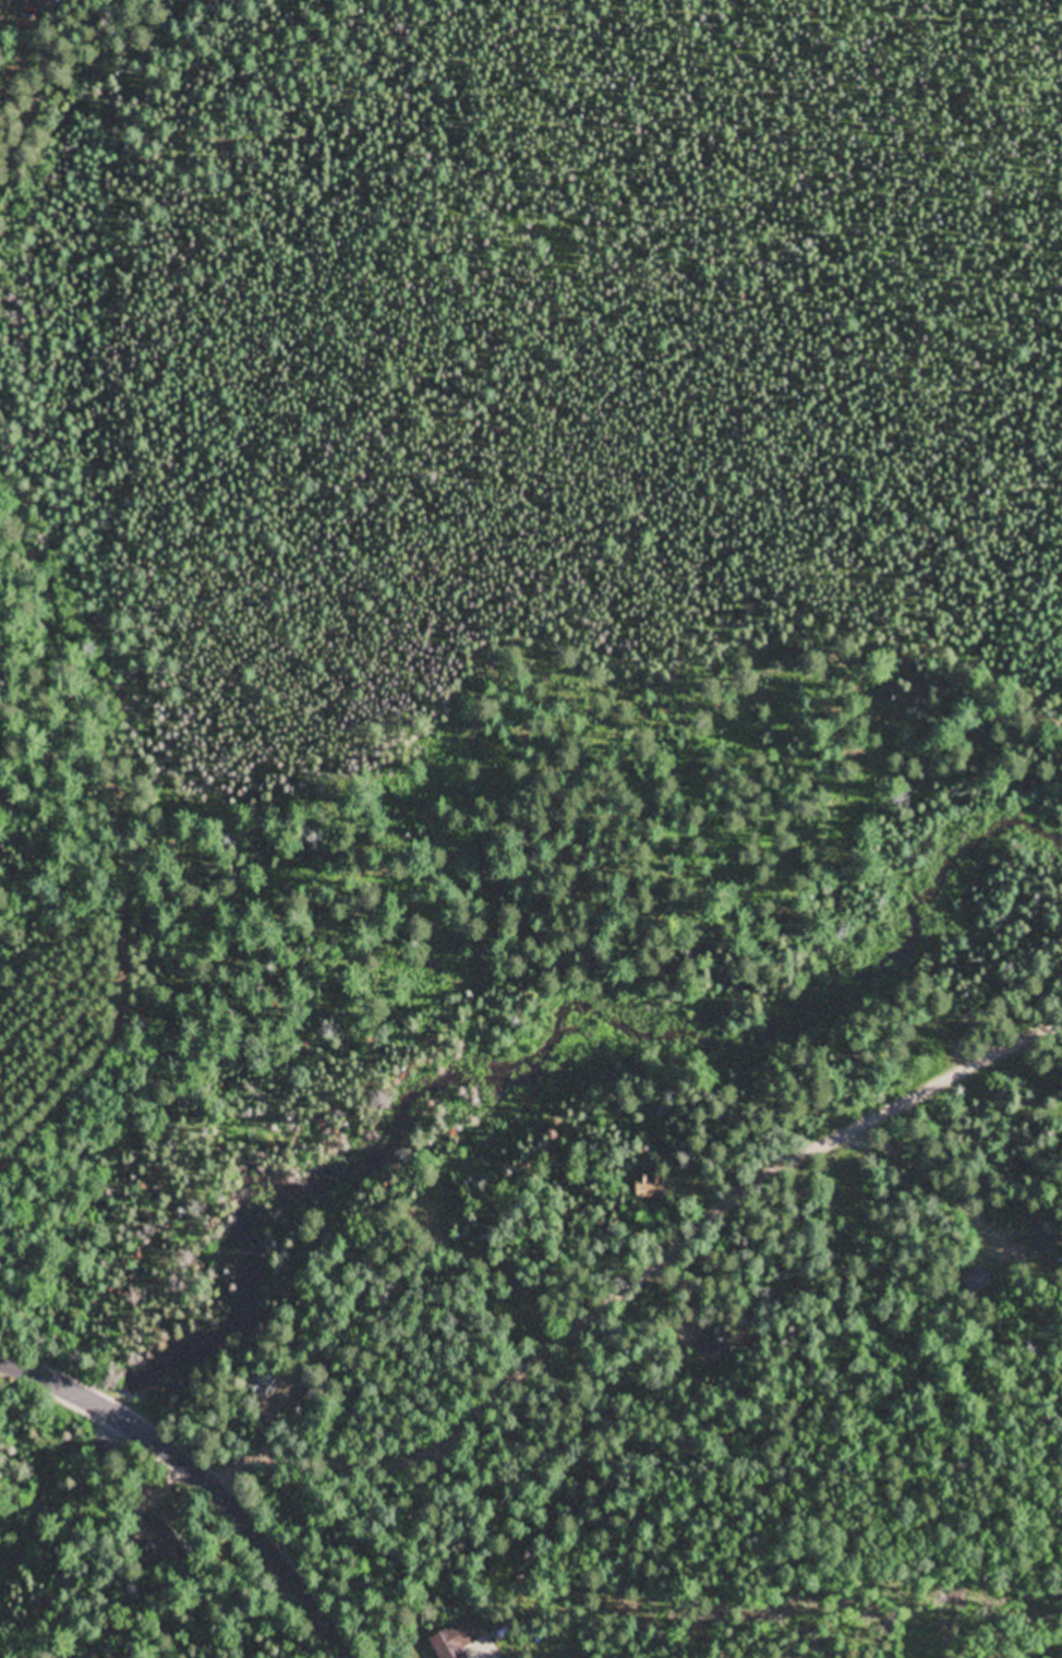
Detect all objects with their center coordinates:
road: (29, 120)
road: (624, 1281)
building: (704, 1344)
road: (206, 1469)
building: (458, 1639)

